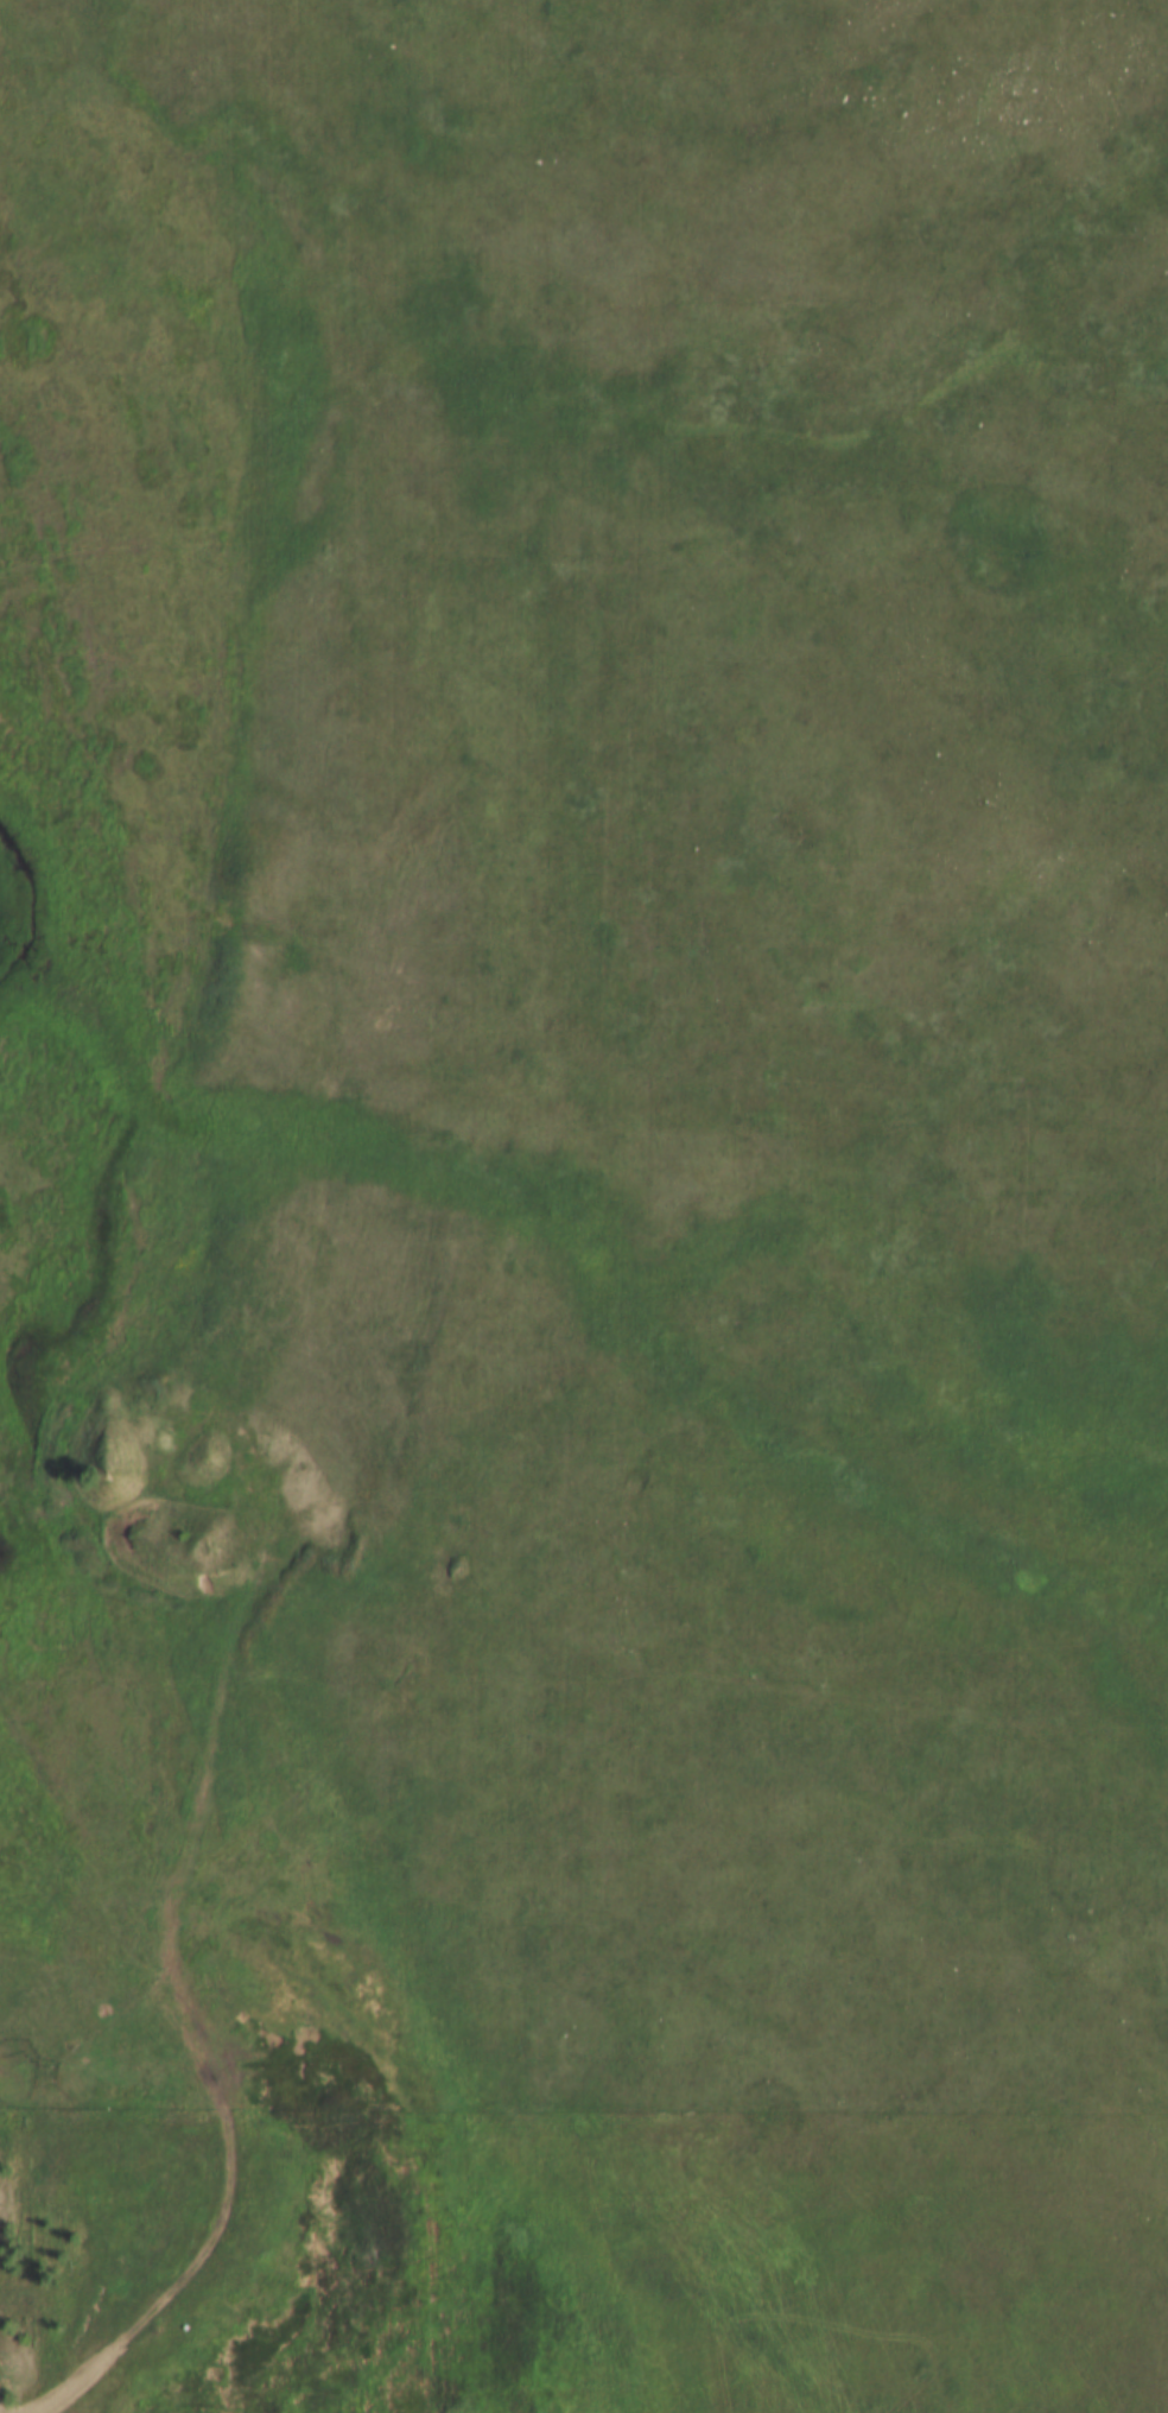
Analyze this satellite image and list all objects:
quarry: (196, 1490)
road: (195, 2032)

